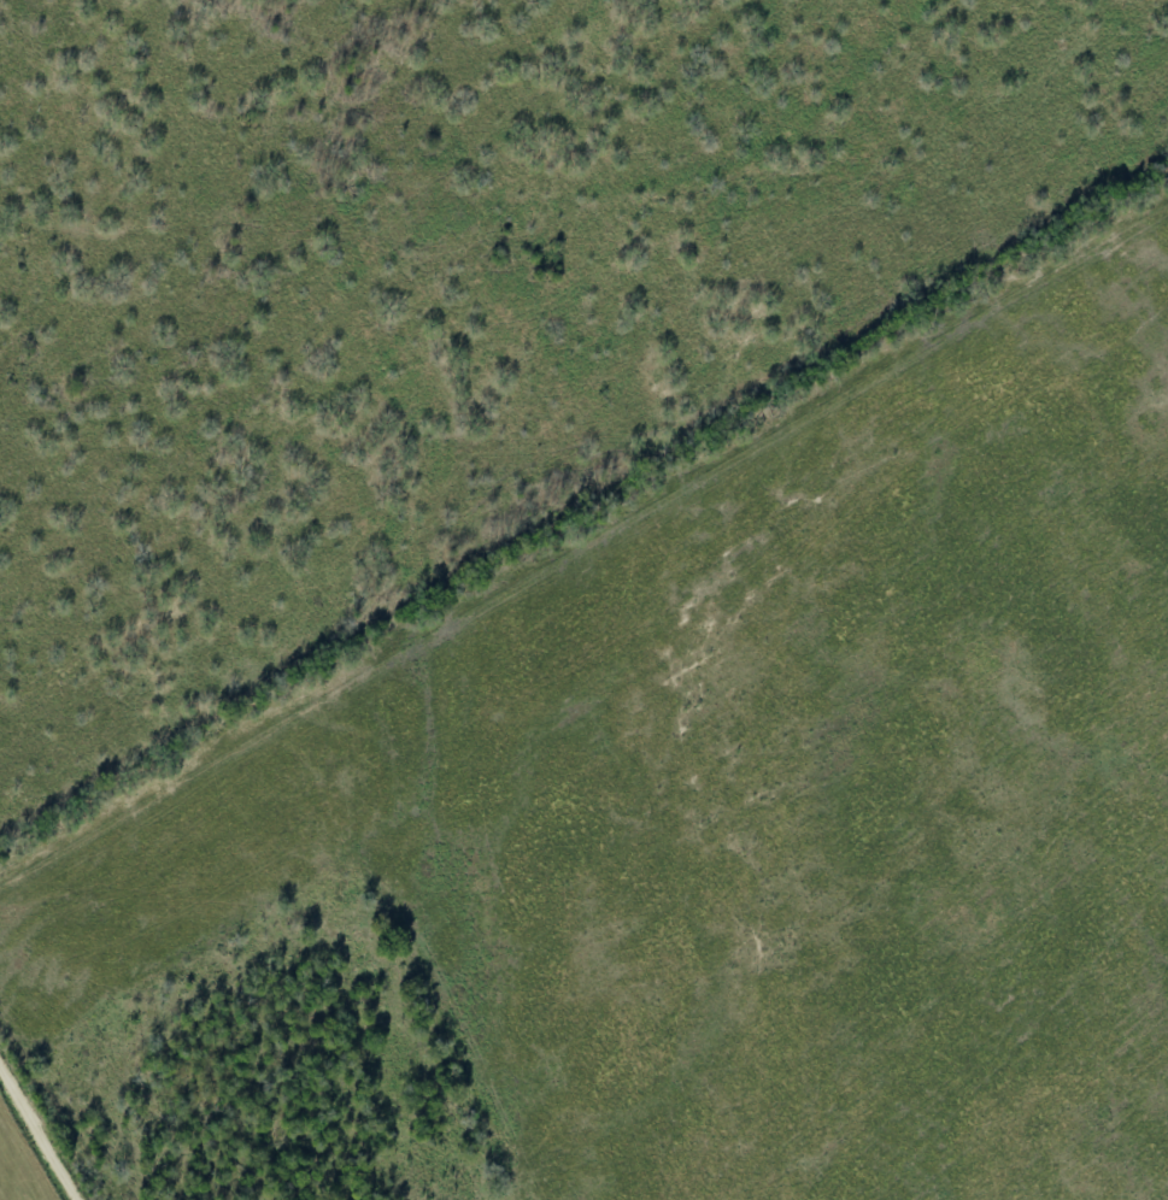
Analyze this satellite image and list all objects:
road: (42, 1125)

